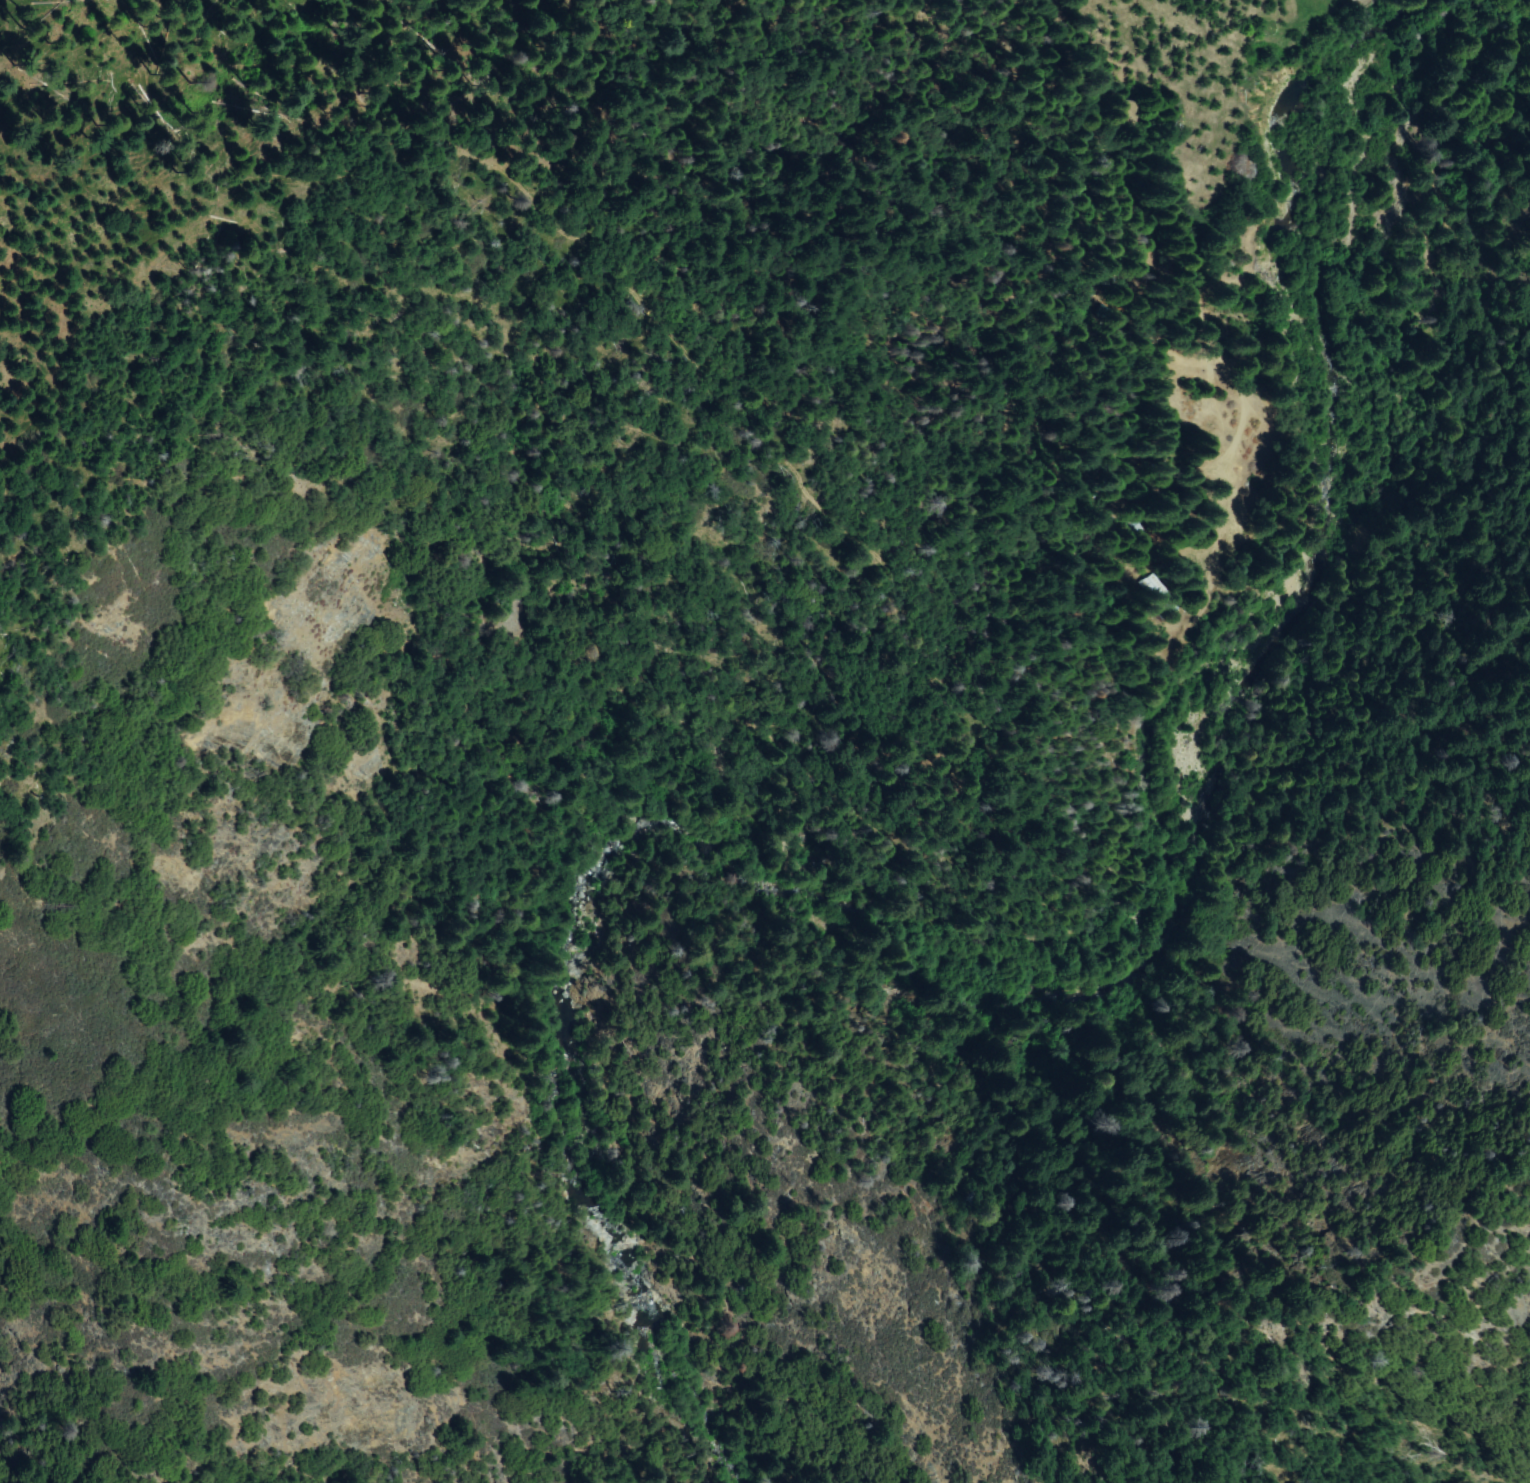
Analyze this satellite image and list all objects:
road: (1225, 49)
building: (1129, 112)
building: (1120, 280)
building: (1122, 314)
road: (1102, 450)
building: (1121, 522)
building: (1148, 530)
building: (1173, 577)
building: (1160, 595)
road: (1117, 597)
river: (1018, 934)

